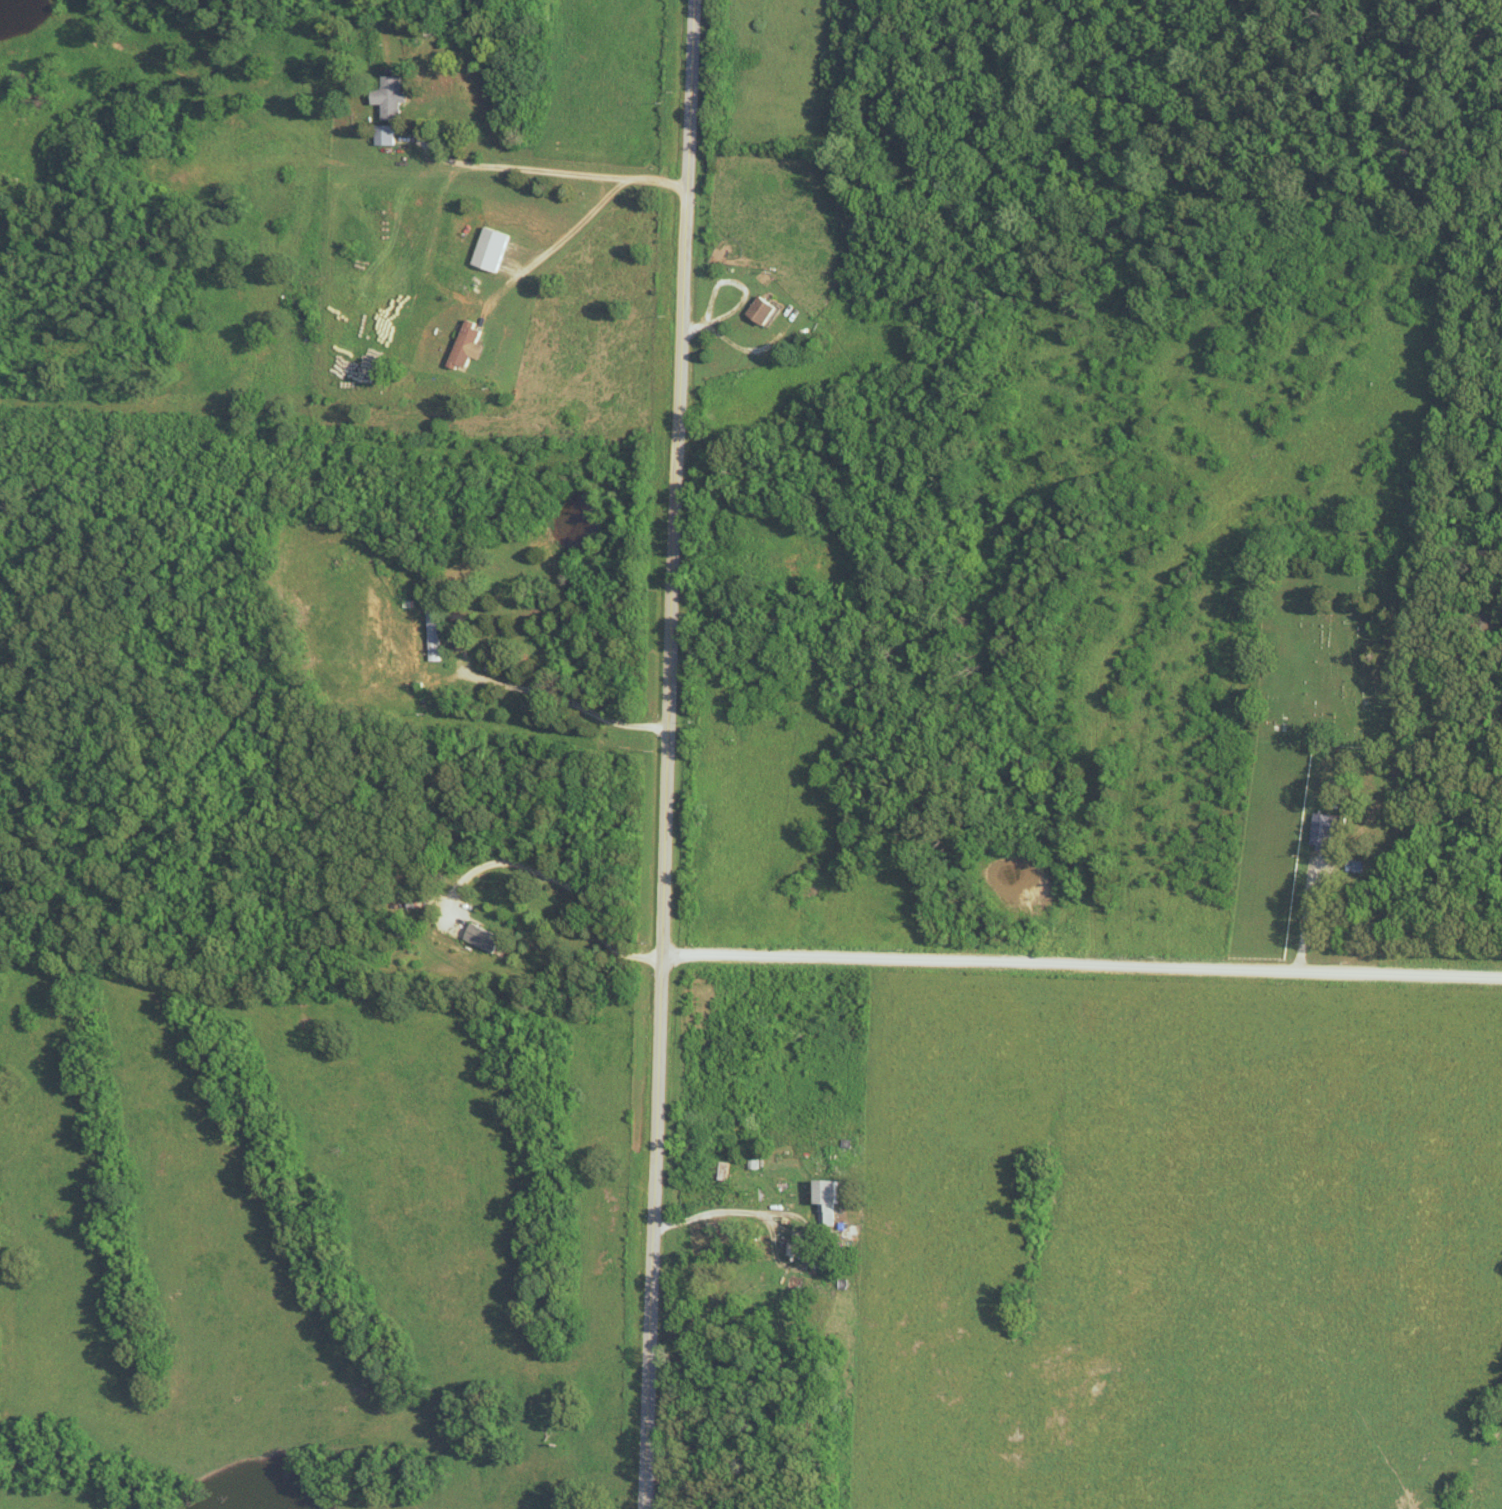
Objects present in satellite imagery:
building: (390, 95)
building: (385, 134)
road: (547, 173)
road: (561, 238)
building: (494, 248)
building: (757, 310)
building: (470, 344)
road: (738, 349)
building: (442, 635)
road: (710, 649)
road: (564, 702)
park: (1309, 724)
road: (666, 754)
building: (1321, 831)
building: (1354, 866)
road: (558, 878)
road: (1306, 916)
building: (489, 938)
road: (1080, 964)
building: (730, 1168)
building: (833, 1197)
road: (763, 1211)
building: (854, 1233)

